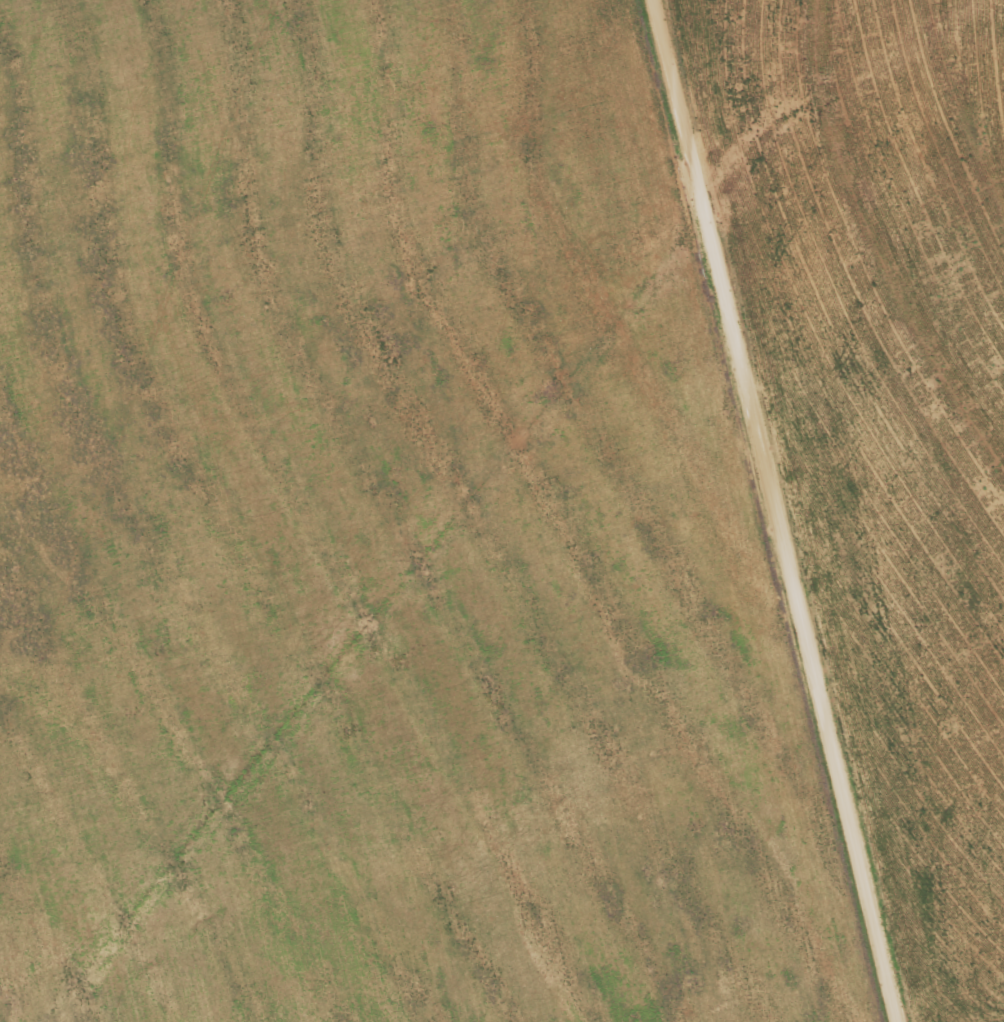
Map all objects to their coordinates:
road: (763, 511)

